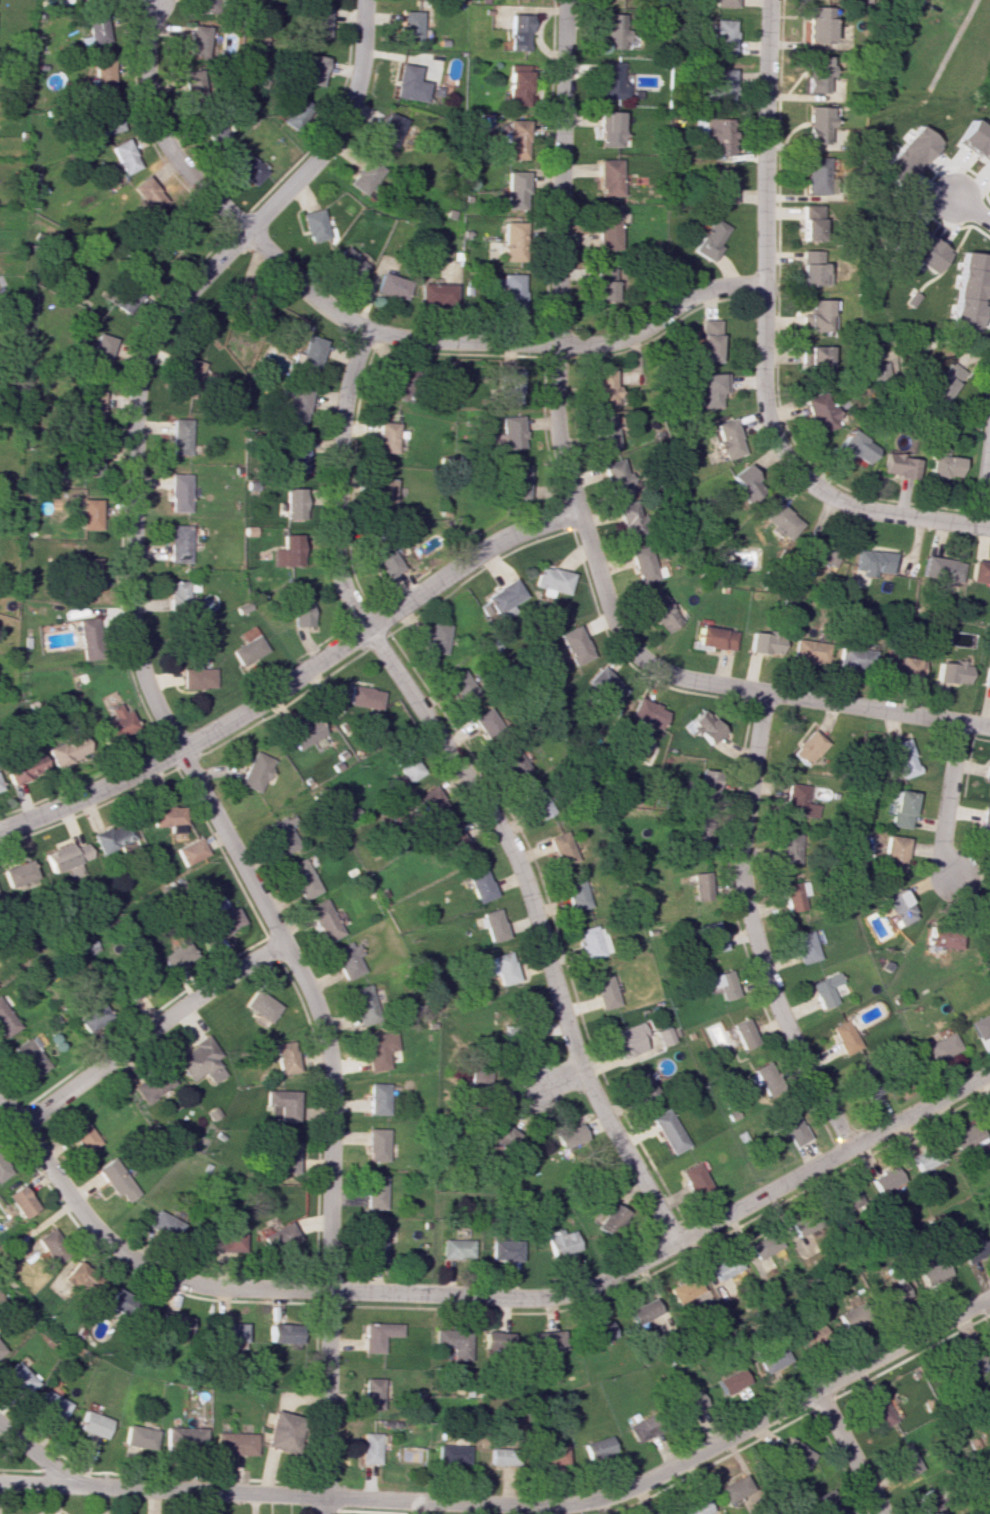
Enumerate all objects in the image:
building: (911, 1)
building: (725, 3)
building: (207, 6)
building: (318, 21)
building: (818, 24)
building: (408, 25)
building: (96, 29)
building: (613, 30)
building: (519, 32)
building: (722, 37)
building: (315, 70)
building: (816, 73)
building: (103, 75)
building: (190, 77)
building: (611, 81)
building: (408, 84)
building: (517, 85)
building: (721, 85)
building: (295, 112)
building: (107, 117)
building: (214, 127)
building: (390, 129)
building: (609, 129)
road: (161, 132)
building: (716, 135)
building: (515, 139)
building: (974, 141)
building: (126, 155)
building: (906, 156)
building: (249, 168)
building: (816, 175)
building: (366, 176)
building: (608, 177)
building: (723, 185)
building: (515, 190)
building: (148, 192)
road: (970, 210)
building: (809, 222)
building: (315, 226)
building: (606, 229)
building: (709, 239)
building: (511, 241)
building: (914, 245)
building: (349, 263)
building: (810, 269)
road: (305, 285)
building: (391, 286)
building: (602, 286)
building: (966, 291)
building: (508, 292)
building: (435, 294)
building: (815, 315)
building: (708, 340)
road: (763, 343)
road: (572, 344)
building: (102, 349)
building: (310, 353)
building: (815, 363)
building: (879, 368)
building: (944, 381)
building: (401, 384)
building: (508, 386)
building: (604, 388)
building: (711, 389)
building: (94, 405)
building: (297, 407)
building: (818, 412)
building: (603, 432)
building: (508, 433)
building: (180, 436)
building: (386, 437)
building: (727, 438)
building: (853, 447)
building: (296, 454)
building: (897, 465)
building: (943, 466)
building: (615, 477)
building: (516, 480)
road: (338, 481)
building: (747, 483)
road: (984, 484)
building: (179, 492)
building: (382, 493)
building: (293, 503)
building: (90, 514)
road: (576, 514)
building: (628, 520)
building: (779, 521)
building: (179, 543)
building: (287, 551)
building: (823, 555)
road: (466, 559)
building: (385, 560)
building: (873, 561)
building: (644, 565)
building: (942, 570)
building: (979, 573)
building: (90, 574)
building: (551, 580)
building: (178, 593)
building: (504, 597)
building: (300, 610)
building: (659, 611)
building: (89, 638)
building: (436, 638)
building: (715, 638)
building: (764, 644)
building: (573, 645)
building: (247, 646)
building: (809, 651)
building: (855, 657)
building: (902, 666)
building: (951, 672)
building: (198, 678)
building: (986, 678)
building: (460, 686)
building: (604, 686)
building: (364, 697)
building: (647, 713)
building: (485, 722)
building: (117, 723)
building: (702, 727)
building: (303, 732)
road: (171, 733)
road: (191, 743)
building: (808, 748)
building: (68, 751)
building: (903, 758)
building: (511, 763)
building: (406, 765)
building: (26, 768)
building: (256, 771)
building: (988, 774)
building: (706, 783)
building: (0, 787)
building: (798, 801)
road: (949, 801)
building: (430, 802)
building: (538, 804)
building: (901, 809)
building: (168, 817)
building: (985, 825)
building: (699, 828)
building: (280, 836)
building: (113, 837)
building: (454, 843)
building: (560, 847)
building: (788, 848)
building: (192, 851)
building: (893, 853)
building: (67, 856)
building: (19, 875)
building: (301, 878)
building: (479, 885)
building: (700, 886)
building: (575, 893)
building: (792, 896)
building: (899, 907)
building: (223, 919)
building: (324, 920)
building: (984, 923)
building: (491, 924)
road: (539, 926)
road: (753, 928)
building: (711, 937)
building: (942, 937)
building: (591, 941)
building: (805, 947)
building: (178, 956)
building: (348, 960)
building: (499, 967)
building: (721, 984)
building: (138, 986)
building: (825, 989)
building: (603, 992)
building: (364, 1004)
building: (262, 1006)
building: (93, 1016)
building: (6, 1021)
building: (981, 1025)
road: (151, 1032)
building: (743, 1034)
building: (663, 1036)
building: (844, 1037)
building: (627, 1040)
building: (943, 1047)
building: (380, 1049)
building: (30, 1057)
building: (285, 1058)
building: (202, 1061)
building: (766, 1077)
road: (560, 1078)
building: (868, 1081)
building: (153, 1084)
building: (643, 1087)
building: (379, 1098)
building: (284, 1103)
building: (793, 1129)
building: (667, 1131)
building: (498, 1135)
building: (964, 1135)
building: (84, 1136)
building: (570, 1136)
building: (378, 1144)
road: (831, 1155)
building: (924, 1156)
building: (289, 1157)
building: (3, 1170)
building: (117, 1179)
building: (691, 1179)
building: (884, 1179)
building: (376, 1192)
building: (21, 1201)
building: (847, 1201)
building: (611, 1217)
building: (165, 1226)
building: (278, 1238)
building: (230, 1241)
building: (561, 1241)
building: (376, 1244)
building: (52, 1245)
building: (764, 1245)
building: (457, 1248)
building: (506, 1250)
building: (975, 1250)
building: (723, 1267)
building: (933, 1272)
building: (81, 1277)
road: (301, 1289)
building: (682, 1289)
building: (896, 1294)
road: (989, 1299)
building: (644, 1309)
building: (112, 1310)
building: (848, 1318)
building: (177, 1325)
building: (599, 1331)
building: (231, 1332)
building: (285, 1334)
building: (377, 1335)
building: (814, 1337)
building: (546, 1341)
building: (454, 1342)
building: (497, 1342)
road: (903, 1343)
building: (0, 1350)
building: (770, 1356)
building: (970, 1361)
building: (17, 1378)
building: (730, 1381)
building: (371, 1393)
building: (989, 1400)
building: (688, 1404)
building: (51, 1405)
building: (879, 1412)
building: (92, 1424)
building: (642, 1428)
building: (280, 1432)
building: (182, 1437)
building: (136, 1438)
building: (232, 1443)
building: (368, 1447)
building: (598, 1447)
road: (849, 1452)
building: (452, 1454)
building: (795, 1454)
road: (36, 1456)
building: (553, 1456)
building: (503, 1457)
building: (905, 1459)
building: (733, 1489)
road: (421, 1500)
building: (928, 1502)
building: (827, 1503)
building: (694, 1507)

